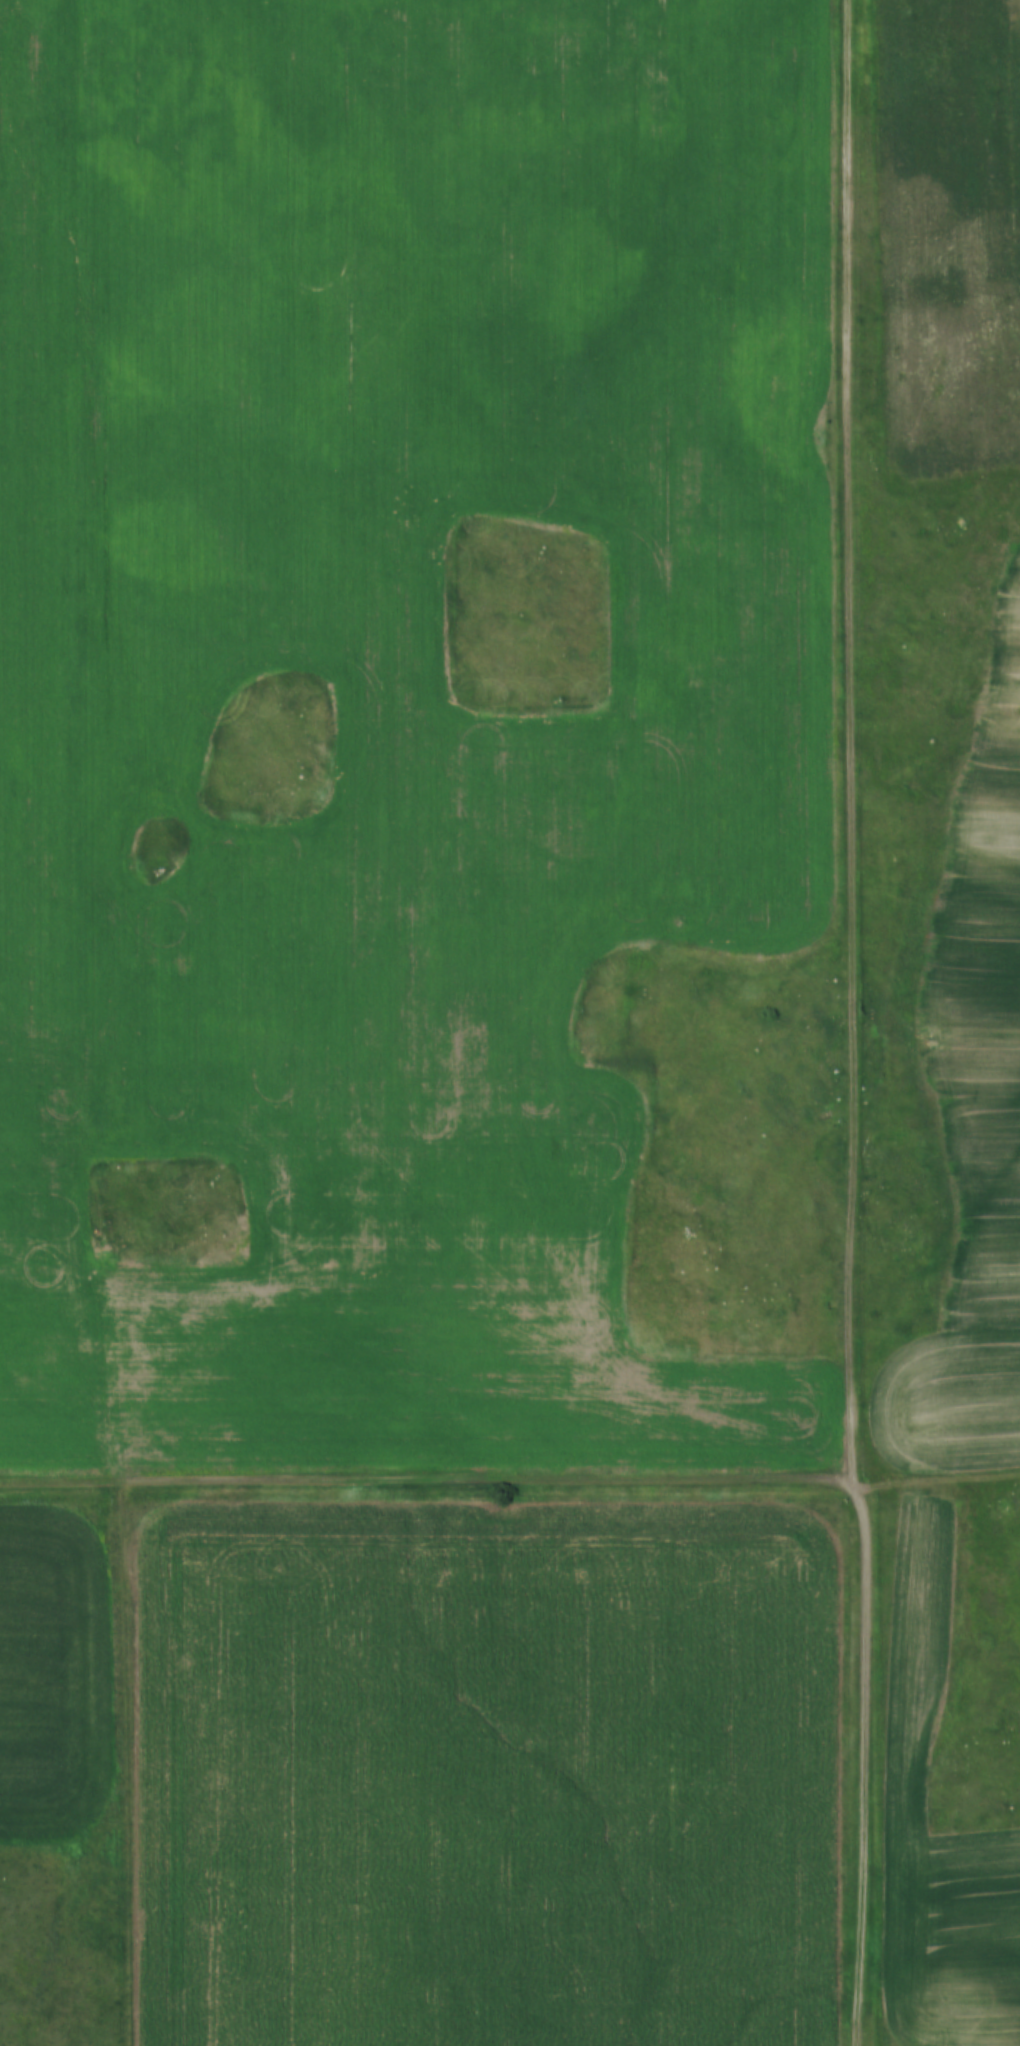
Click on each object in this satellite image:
road: (849, 1024)
road: (425, 1477)
road: (934, 1490)

